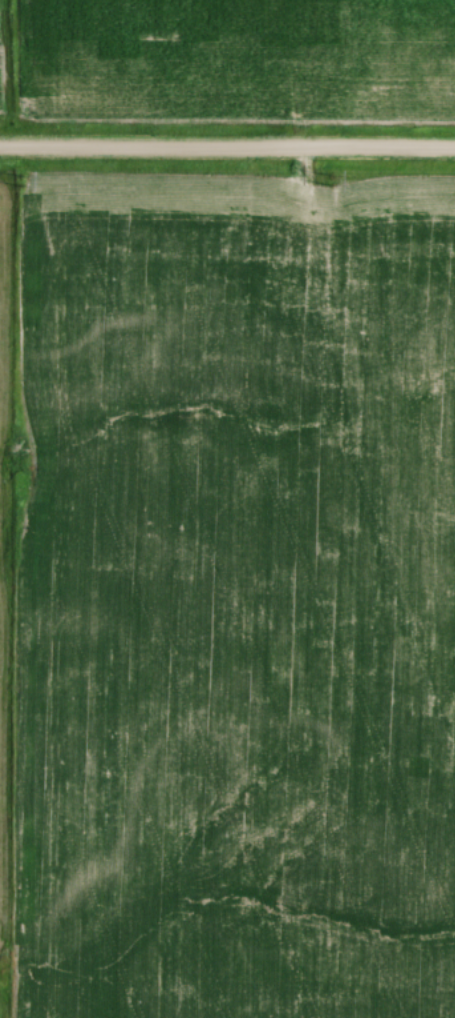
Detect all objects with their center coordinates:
road: (227, 153)
power tower: (329, 180)
power tower: (22, 183)

